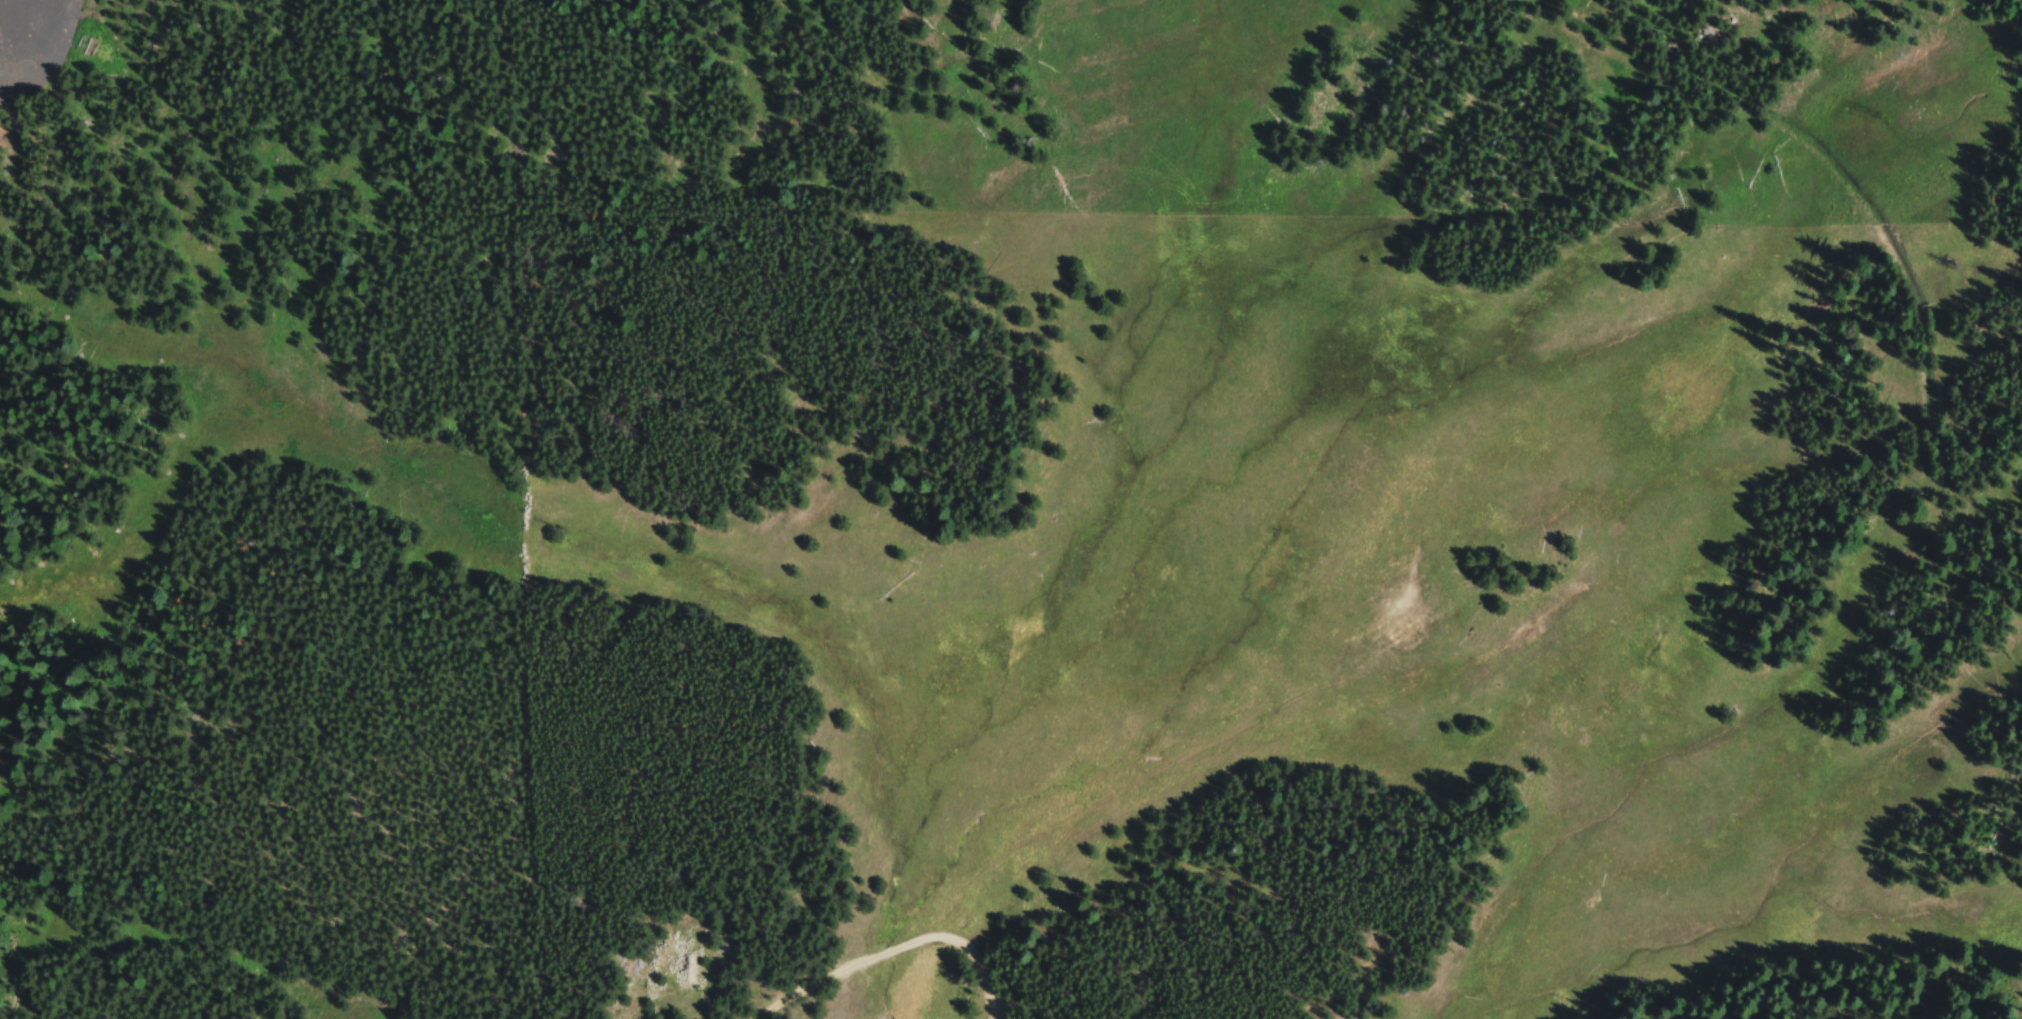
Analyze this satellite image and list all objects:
road: (0, 0)
road: (2010, 13)
parking lot: (34, 41)
road: (894, 955)

